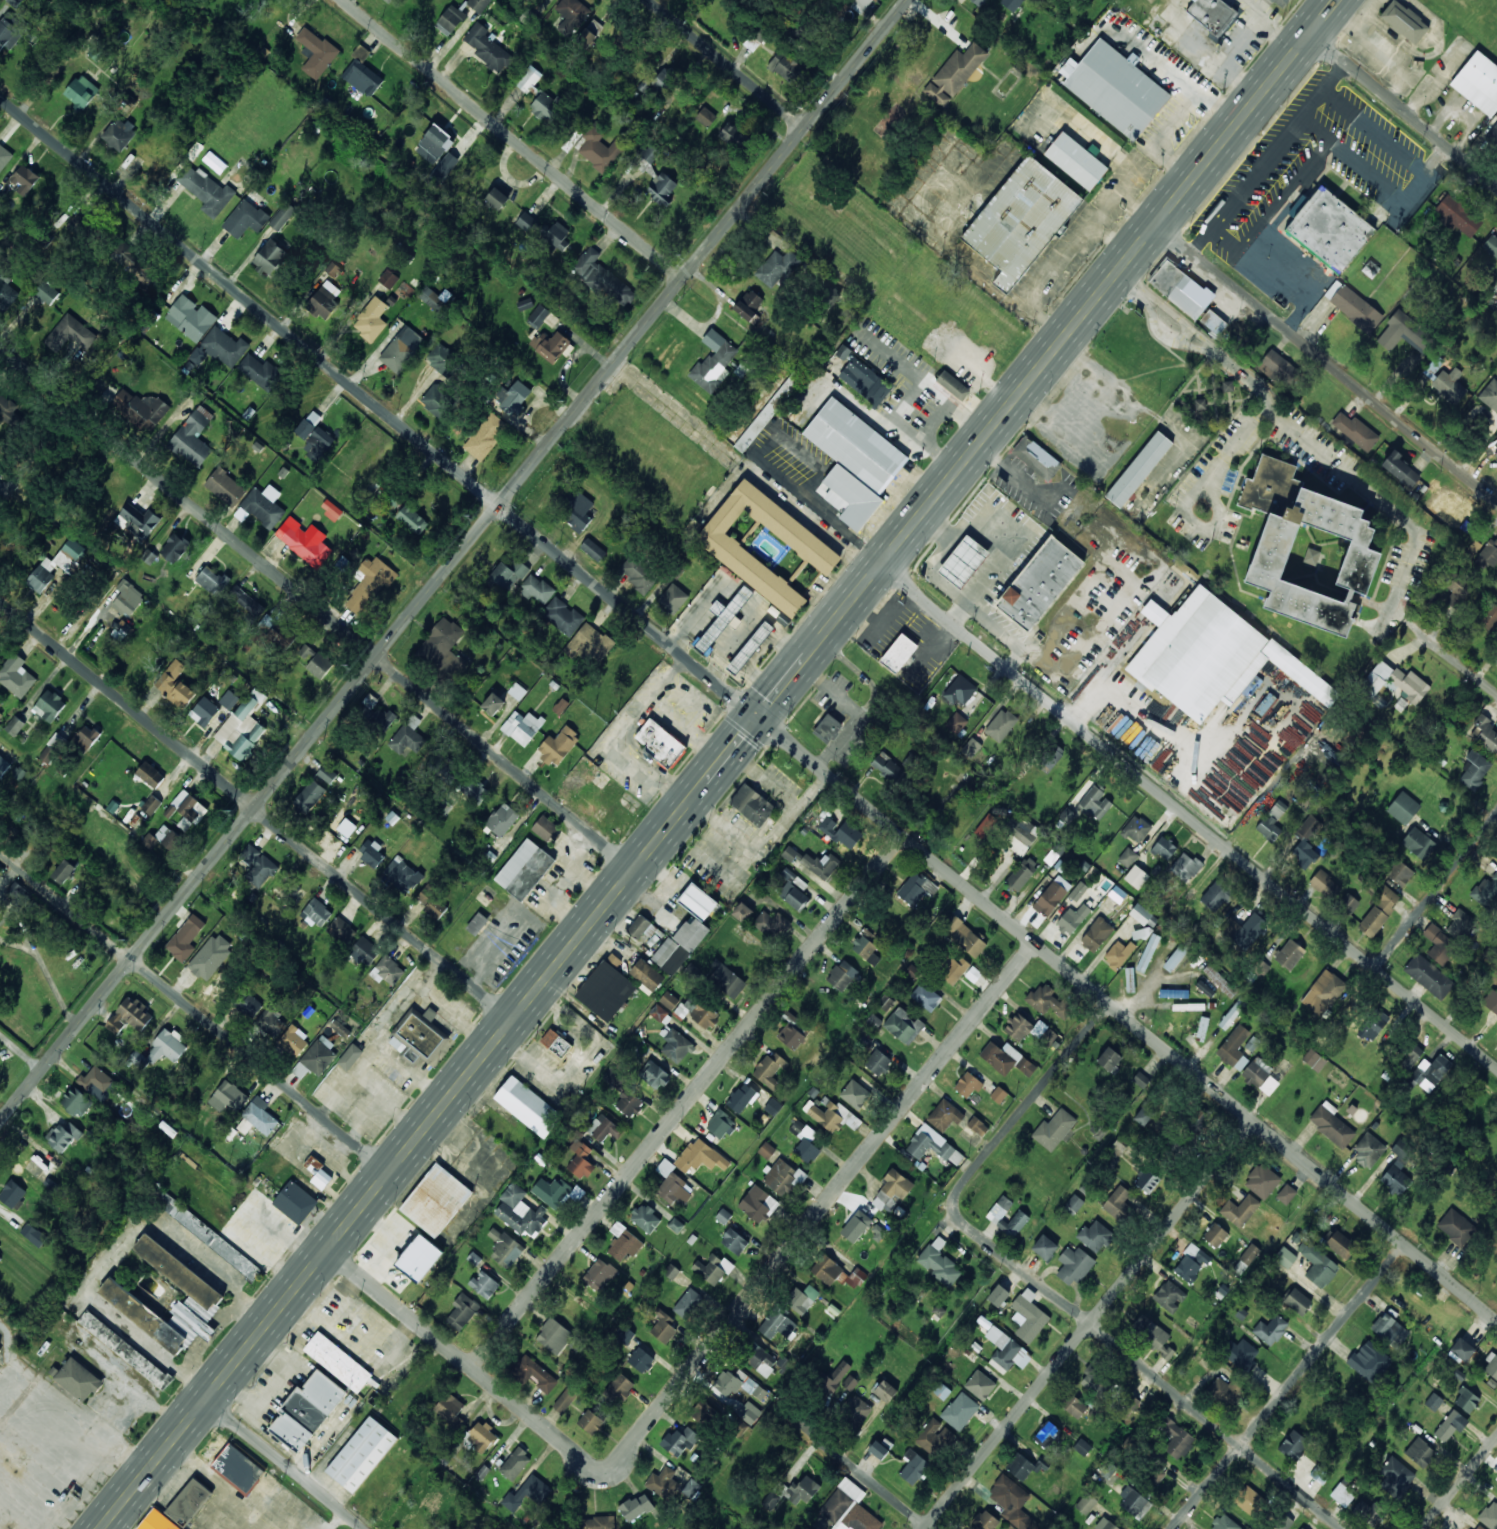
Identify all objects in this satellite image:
building: (390, 1)
building: (15, 2)
building: (979, 2)
building: (1012, 4)
building: (479, 5)
building: (572, 13)
building: (1213, 14)
building: (450, 20)
building: (1404, 21)
building: (11, 31)
building: (590, 32)
building: (757, 36)
building: (488, 48)
building: (316, 52)
road: (725, 62)
building: (787, 68)
building: (361, 74)
building: (955, 74)
building: (529, 78)
building: (664, 80)
building: (1478, 83)
building: (1115, 89)
building: (82, 91)
building: (544, 106)
road: (1403, 111)
building: (706, 117)
building: (1492, 131)
building: (119, 133)
building: (733, 136)
road: (511, 137)
building: (434, 144)
building: (599, 149)
building: (4, 157)
building: (1076, 161)
building: (444, 169)
building: (656, 176)
building: (25, 179)
building: (206, 190)
building: (0, 199)
building: (497, 199)
building: (282, 216)
building: (1458, 216)
building: (246, 217)
building: (1021, 220)
building: (1329, 230)
building: (546, 233)
building: (1491, 245)
building: (269, 257)
building: (129, 259)
building: (777, 268)
building: (333, 269)
building: (388, 279)
building: (603, 279)
building: (1180, 288)
building: (6, 290)
building: (47, 293)
building: (830, 295)
building: (434, 297)
building: (323, 302)
building: (525, 304)
building: (749, 306)
building: (1353, 306)
building: (538, 316)
building: (191, 318)
building: (371, 319)
building: (1215, 323)
building: (1403, 332)
building: (70, 334)
building: (550, 345)
building: (219, 348)
building: (402, 348)
building: (845, 353)
building: (442, 358)
road: (1327, 361)
building: (714, 362)
building: (1275, 367)
building: (260, 371)
building: (863, 380)
building: (952, 385)
building: (1450, 385)
building: (1228, 386)
building: (1490, 395)
building: (514, 397)
building: (438, 400)
building: (1200, 406)
building: (6, 407)
building: (143, 407)
road: (20, 412)
building: (768, 414)
building: (308, 424)
building: (1355, 430)
building: (486, 436)
building: (193, 437)
building: (318, 445)
building: (1494, 449)
building: (1036, 458)
building: (854, 462)
building: (1139, 469)
building: (1400, 469)
building: (226, 487)
building: (393, 503)
building: (1449, 505)
building: (262, 506)
building: (331, 510)
building: (577, 512)
building: (413, 519)
building: (137, 521)
road: (814, 521)
building: (304, 543)
building: (175, 548)
building: (1473, 548)
building: (814, 549)
building: (1307, 549)
building: (593, 550)
building: (1488, 555)
road: (451, 559)
building: (964, 562)
building: (56, 566)
building: (380, 571)
building: (509, 574)
building: (639, 574)
building: (212, 581)
building: (1040, 583)
building: (1456, 585)
building: (537, 589)
building: (128, 598)
building: (673, 599)
building: (246, 601)
road: (317, 611)
building: (562, 616)
building: (1490, 617)
building: (722, 620)
building: (122, 631)
building: (277, 632)
building: (589, 644)
building: (443, 647)
building: (750, 648)
building: (307, 652)
building: (898, 653)
building: (1212, 657)
building: (319, 665)
road: (1468, 670)
building: (16, 676)
building: (1394, 683)
building: (175, 685)
building: (960, 690)
building: (517, 691)
building: (229, 700)
building: (1, 703)
building: (493, 704)
building: (50, 705)
building: (561, 706)
road: (747, 708)
building: (204, 712)
building: (1, 715)
traffic signals: (758, 717)
building: (383, 718)
building: (956, 723)
building: (1001, 725)
building: (15, 726)
building: (242, 726)
building: (522, 727)
building: (828, 729)
building: (1484, 733)
building: (408, 736)
building: (87, 737)
building: (661, 744)
building: (558, 746)
building: (53, 748)
building: (971, 748)
road: (1339, 752)
building: (1052, 756)
road: (719, 764)
building: (4, 766)
building: (889, 768)
building: (1475, 770)
building: (449, 772)
building: (327, 774)
building: (150, 775)
building: (474, 790)
building: (309, 796)
building: (1095, 803)
building: (151, 804)
building: (752, 805)
road: (256, 806)
building: (444, 807)
building: (1403, 808)
building: (187, 810)
road: (1189, 816)
building: (502, 819)
building: (1272, 822)
building: (347, 827)
building: (545, 828)
building: (984, 828)
building: (1136, 829)
building: (842, 832)
building: (1020, 835)
building: (162, 841)
building: (1305, 842)
building: (1418, 843)
building: (1164, 848)
building: (789, 853)
building: (372, 854)
building: (1127, 857)
building: (258, 865)
building: (821, 865)
building: (1186, 867)
building: (524, 869)
building: (64, 871)
building: (1400, 873)
building: (1022, 874)
building: (402, 875)
building: (1136, 877)
building: (1325, 884)
building: (916, 888)
building: (794, 890)
road: (1436, 890)
building: (1078, 891)
building: (1485, 891)
building: (19, 892)
building: (1117, 894)
building: (1052, 896)
building: (1217, 896)
building: (1386, 899)
building: (697, 902)
building: (432, 903)
building: (1348, 903)
building: (317, 912)
building: (741, 912)
building: (1144, 916)
building: (1073, 919)
building: (1372, 922)
building: (477, 923)
building: (773, 924)
building: (1461, 924)
building: (642, 927)
building: (1244, 930)
building: (341, 931)
building: (1096, 934)
building: (964, 936)
building: (185, 938)
building: (1440, 944)
building: (680, 946)
building: (866, 947)
building: (364, 951)
building: (1148, 953)
building: (1119, 954)
building: (1290, 954)
building: (211, 956)
building: (1176, 956)
building: (953, 968)
building: (389, 970)
building: (913, 971)
building: (973, 974)
building: (647, 975)
building: (842, 975)
building: (1428, 976)
building: (725, 979)
building: (1220, 981)
building: (606, 989)
building: (1205, 989)
building: (1323, 992)
building: (1174, 993)
building: (926, 997)
building: (670, 1000)
building: (1491, 1000)
building: (1048, 1001)
building: (248, 1004)
building: (1188, 1006)
road: (195, 1011)
building: (699, 1011)
building: (659, 1013)
building: (1232, 1013)
building: (130, 1016)
building: (271, 1022)
building: (1373, 1024)
building: (903, 1026)
building: (340, 1029)
building: (1030, 1030)
building: (792, 1031)
building: (417, 1037)
building: (294, 1041)
building: (556, 1043)
building: (675, 1044)
building: (1234, 1048)
building: (160, 1050)
building: (350, 1057)
building: (1001, 1057)
building: (1410, 1057)
building: (316, 1058)
building: (1109, 1059)
building: (879, 1062)
building: (1026, 1066)
building: (770, 1070)
building: (1431, 1072)
building: (656, 1073)
building: (1260, 1076)
building: (615, 1079)
building: (1141, 1080)
building: (97, 1081)
building: (968, 1085)
building: (855, 1094)
building: (999, 1095)
building: (228, 1097)
building: (741, 1097)
building: (76, 1101)
road: (687, 1101)
road: (1029, 1102)
building: (629, 1103)
building: (773, 1106)
building: (528, 1107)
building: (1147, 1114)
building: (944, 1115)
building: (258, 1117)
building: (834, 1117)
building: (720, 1124)
building: (1331, 1124)
building: (978, 1126)
building: (604, 1128)
building: (1054, 1129)
building: (1097, 1131)
building: (63, 1136)
building: (804, 1140)
building: (933, 1146)
building: (766, 1150)
building: (1369, 1150)
building: (1400, 1152)
building: (700, 1156)
building: (580, 1160)
building: (319, 1173)
building: (783, 1178)
building: (1147, 1180)
building: (1395, 1180)
building: (1262, 1181)
building: (672, 1184)
building: (552, 1191)
building: (892, 1192)
building: (12, 1194)
building: (1286, 1194)
building: (436, 1200)
building: (1117, 1201)
building: (295, 1202)
building: (758, 1204)
building: (1074, 1204)
building: (999, 1209)
building: (1240, 1210)
building: (520, 1212)
building: (723, 1216)
building: (645, 1218)
building: (1013, 1224)
building: (676, 1225)
building: (856, 1226)
building: (1456, 1227)
building: (880, 1230)
building: (34, 1235)
building: (208, 1235)
building: (1215, 1235)
building: (1094, 1236)
building: (734, 1241)
building: (624, 1242)
building: (1340, 1244)
building: (1044, 1247)
building: (505, 1248)
building: (0, 1258)
building: (419, 1258)
building: (1285, 1258)
building: (939, 1263)
building: (1191, 1263)
building: (1073, 1265)
building: (1319, 1266)
building: (712, 1269)
building: (671, 1272)
building: (837, 1273)
building: (599, 1275)
building: (484, 1285)
building: (206, 1294)
building: (998, 1295)
building: (1169, 1296)
building: (802, 1298)
building: (1298, 1301)
building: (689, 1303)
building: (462, 1312)
building: (1028, 1316)
road: (1088, 1324)
building: (777, 1325)
building: (664, 1327)
building: (1271, 1330)
building: (1390, 1330)
building: (554, 1336)
building: (1153, 1336)
building: (1, 1346)
road: (707, 1348)
building: (1462, 1349)
building: (125, 1350)
building: (1006, 1351)
building: (1241, 1353)
building: (760, 1359)
building: (641, 1360)
building: (1368, 1361)
building: (338, 1362)
building: (1491, 1365)
road: (1145, 1368)
building: (533, 1373)
building: (837, 1375)
building: (78, 1380)
building: (1095, 1380)
building: (850, 1383)
building: (738, 1384)
building: (980, 1385)
road: (1289, 1386)
building: (620, 1388)
building: (885, 1391)
building: (942, 1391)
building: (1226, 1391)
building: (565, 1399)
building: (1466, 1400)
building: (1433, 1401)
building: (1132, 1403)
building: (1074, 1406)
building: (449, 1407)
building: (307, 1410)
building: (855, 1410)
building: (960, 1411)
building: (704, 1413)
building: (590, 1422)
building: (1449, 1426)
building: (1047, 1434)
building: (482, 1436)
building: (933, 1436)
building: (1176, 1438)
building: (681, 1441)
building: (1294, 1445)
building: (1082, 1447)
building: (881, 1448)
building: (1420, 1452)
building: (361, 1454)
building: (233, 1464)
road: (285, 1464)
building: (515, 1464)
building: (914, 1467)
building: (1020, 1467)
road: (865, 1475)
building: (1319, 1475)
building: (1396, 1476)
building: (1154, 1478)
building: (661, 1482)
road: (1459, 1483)
building: (851, 1489)
building: (1344, 1492)
building: (527, 1493)
building: (1246, 1498)
building: (189, 1502)
building: (1134, 1502)
building: (1012, 1503)
building: (1086, 1503)
building: (636, 1507)
building: (848, 1513)
building: (1368, 1513)
building: (1490, 1515)
building: (157, 1521)
building: (984, 1521)
building: (599, 1522)
building: (1284, 1522)
building: (1224, 1523)
building: (1105, 1524)
building: (1476, 1526)
building: (1302, 1528)

